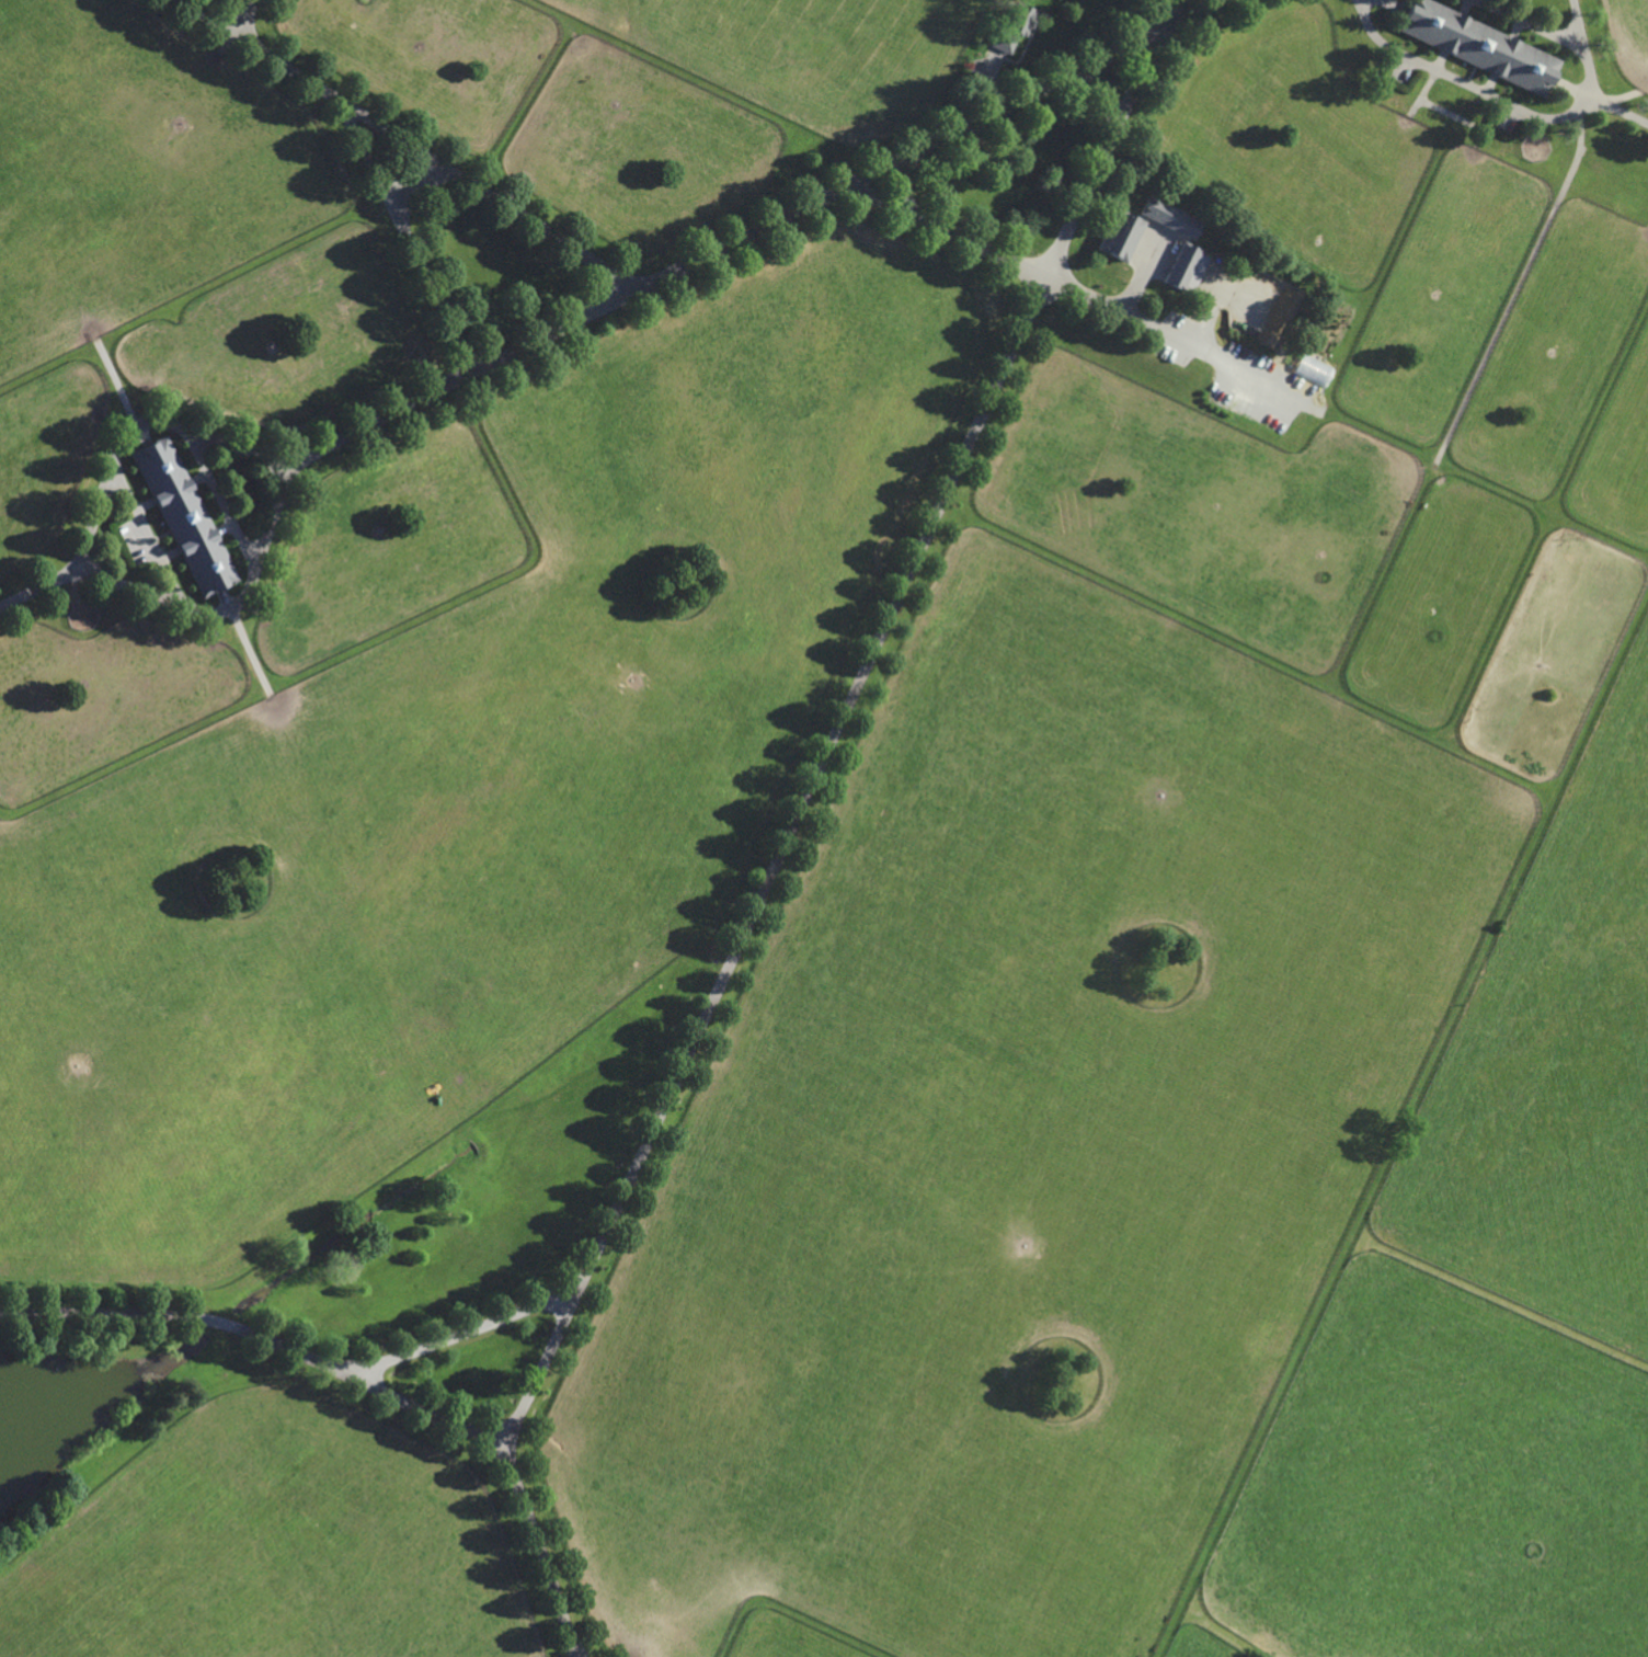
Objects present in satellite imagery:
road: (1154, 14)
road: (244, 18)
road: (1531, 23)
building: (1012, 27)
building: (1477, 45)
road: (261, 53)
road: (1511, 105)
road: (1620, 114)
road: (928, 144)
road: (1092, 169)
road: (491, 197)
building: (1169, 215)
road: (947, 229)
building: (1118, 233)
road: (411, 237)
building: (1183, 266)
road: (1172, 335)
building: (1264, 335)
building: (1314, 369)
road: (167, 425)
road: (220, 500)
building: (182, 516)
road: (144, 532)
road: (37, 587)
road: (775, 864)
road: (461, 1333)
road: (254, 1335)
road: (538, 1545)

